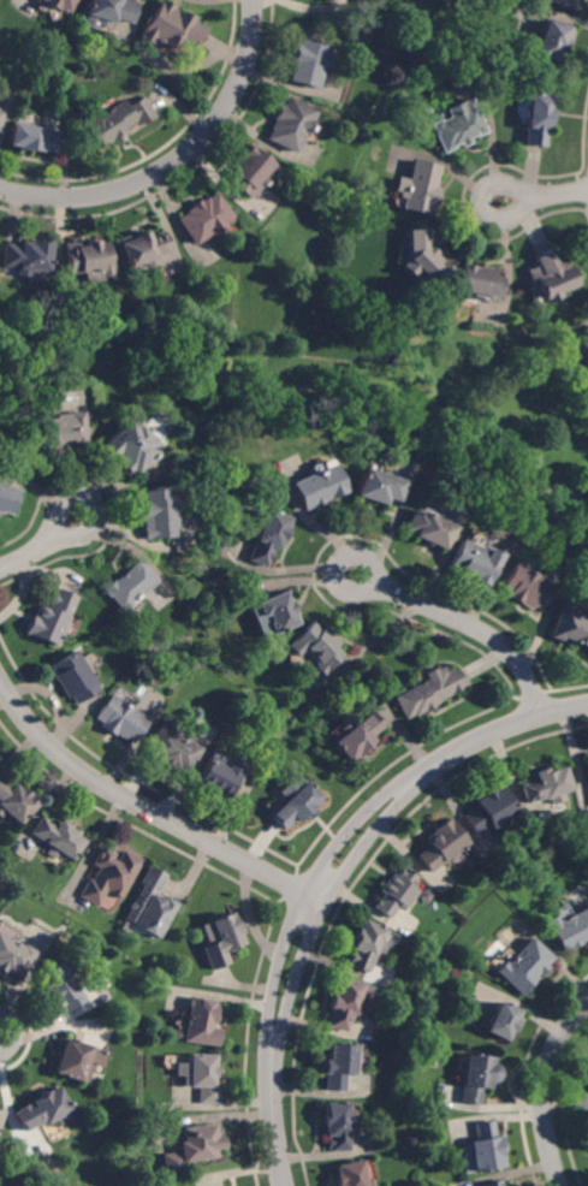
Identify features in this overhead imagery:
building: (325, 0)
building: (326, 0)
building: (568, 4)
building: (61, 5)
building: (111, 11)
building: (172, 26)
building: (553, 38)
building: (307, 61)
building: (1, 115)
building: (537, 119)
building: (114, 121)
building: (290, 124)
building: (458, 126)
building: (34, 138)
road: (176, 159)
building: (250, 171)
building: (420, 186)
road: (544, 195)
building: (204, 218)
building: (142, 248)
building: (423, 256)
building: (26, 259)
building: (88, 260)
building: (551, 275)
building: (480, 283)
building: (583, 346)
building: (63, 432)
building: (130, 447)
building: (319, 486)
building: (378, 486)
building: (7, 498)
building: (158, 514)
building: (427, 528)
building: (268, 536)
road: (42, 546)
building: (473, 561)
building: (129, 585)
building: (525, 587)
building: (278, 611)
building: (51, 617)
road: (467, 622)
building: (570, 628)
building: (317, 646)
building: (72, 677)
building: (428, 690)
building: (121, 719)
building: (356, 735)
building: (172, 752)
building: (587, 775)
building: (216, 778)
building: (546, 787)
building: (16, 801)
road: (143, 807)
building: (295, 807)
building: (491, 812)
building: (58, 837)
building: (441, 846)
building: (111, 874)
road: (328, 876)
building: (396, 893)
building: (426, 896)
building: (149, 905)
building: (572, 931)
building: (220, 939)
building: (367, 947)
building: (14, 956)
building: (525, 967)
building: (63, 986)
building: (345, 1004)
building: (503, 1021)
building: (202, 1022)
building: (73, 1060)
building: (339, 1066)
building: (200, 1077)
building: (477, 1078)
road: (545, 1089)
building: (44, 1110)
building: (0, 1114)
building: (338, 1126)
building: (485, 1148)
building: (192, 1149)
building: (351, 1175)
building: (494, 1184)

